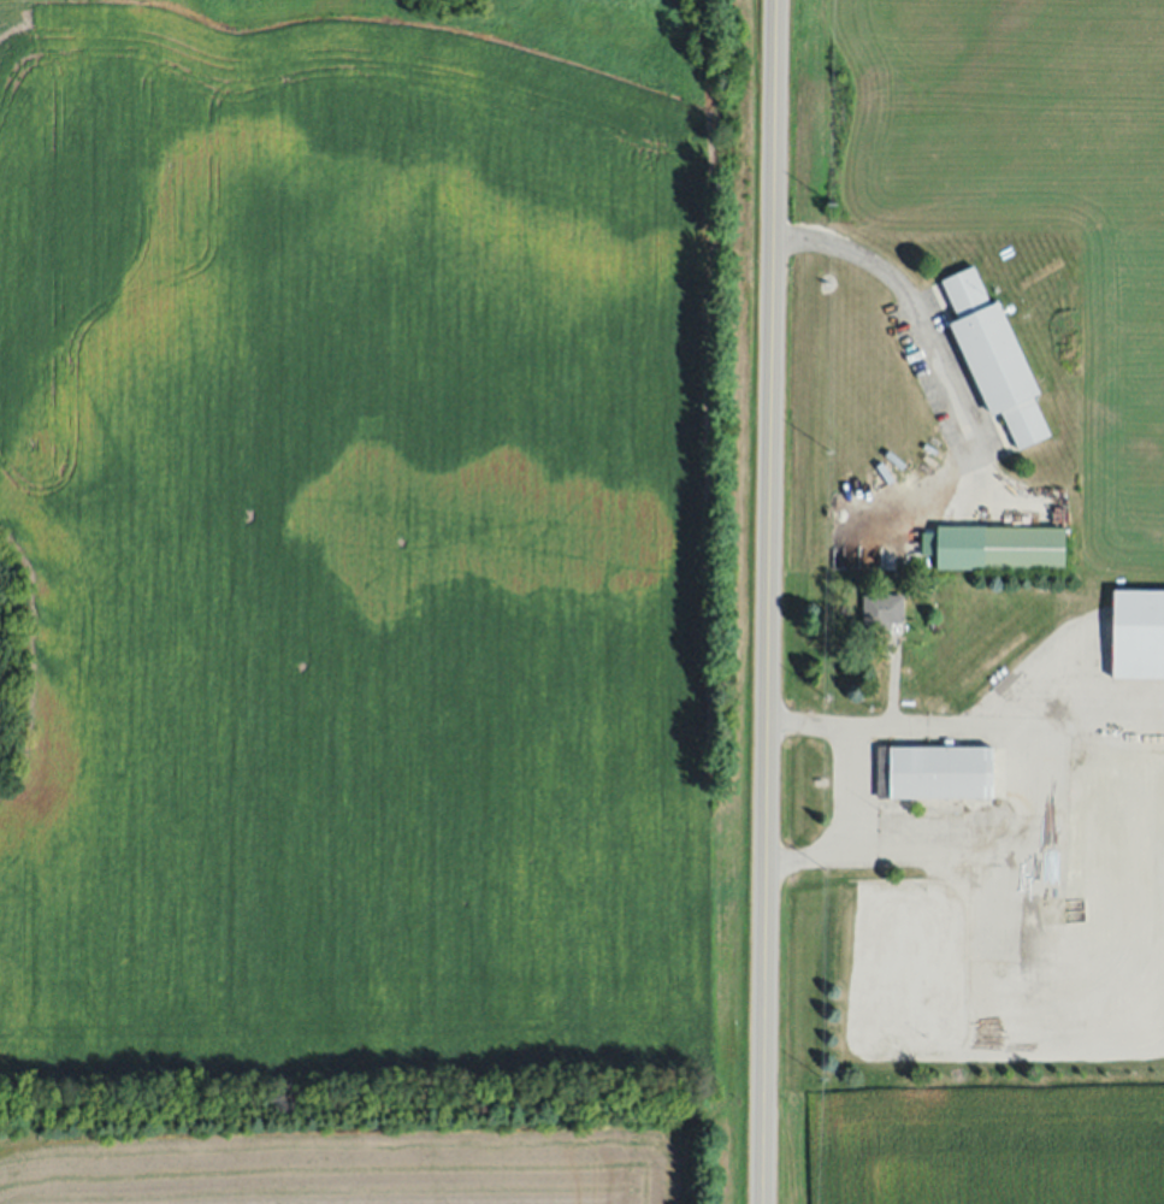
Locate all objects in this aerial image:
road: (916, 303)
building: (995, 359)
parking lot: (950, 383)
building: (927, 544)
building: (999, 549)
road: (767, 601)
building: (881, 609)
building: (1138, 632)
road: (964, 725)
building: (941, 773)
road: (953, 854)

